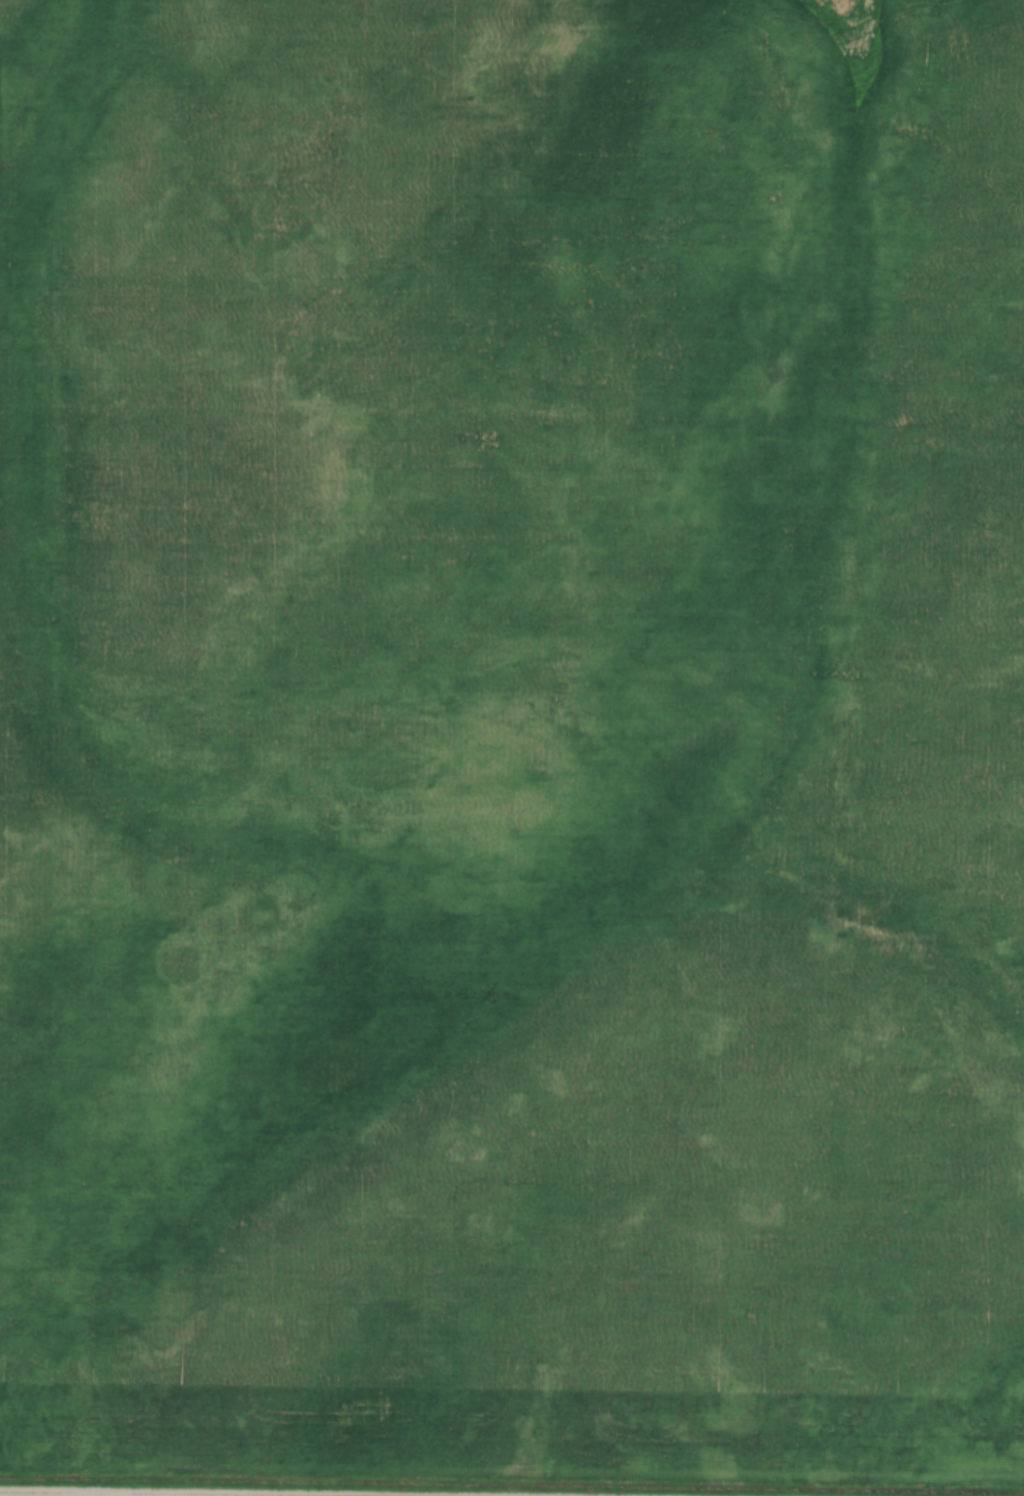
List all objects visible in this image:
road: (12, 1495)

